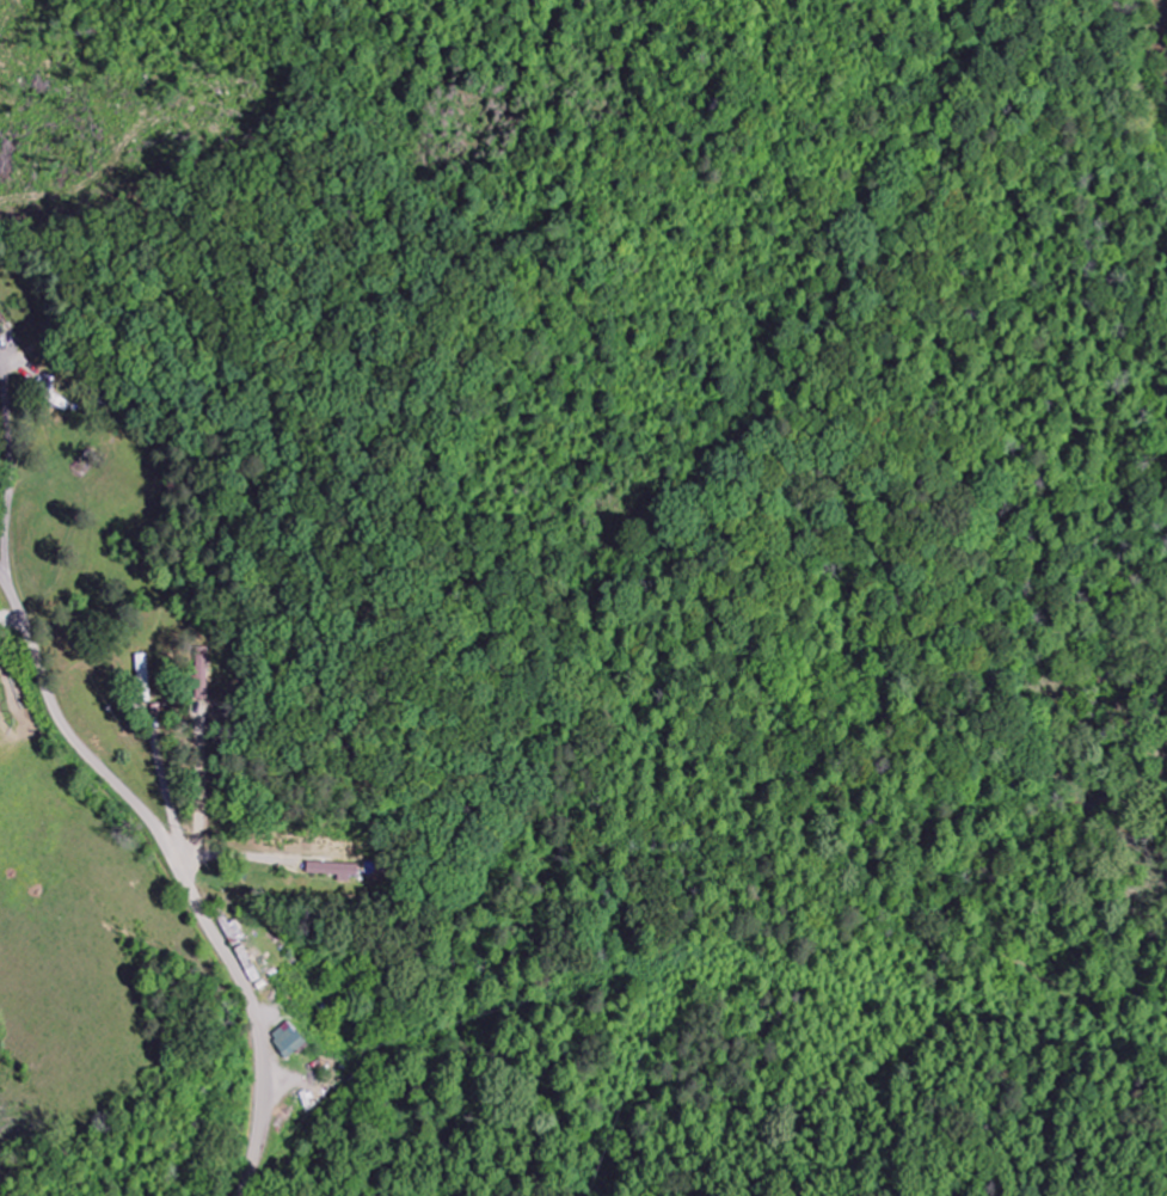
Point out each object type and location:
building: (0, 332)
building: (145, 679)
road: (179, 870)
building: (328, 870)
building: (289, 1041)

